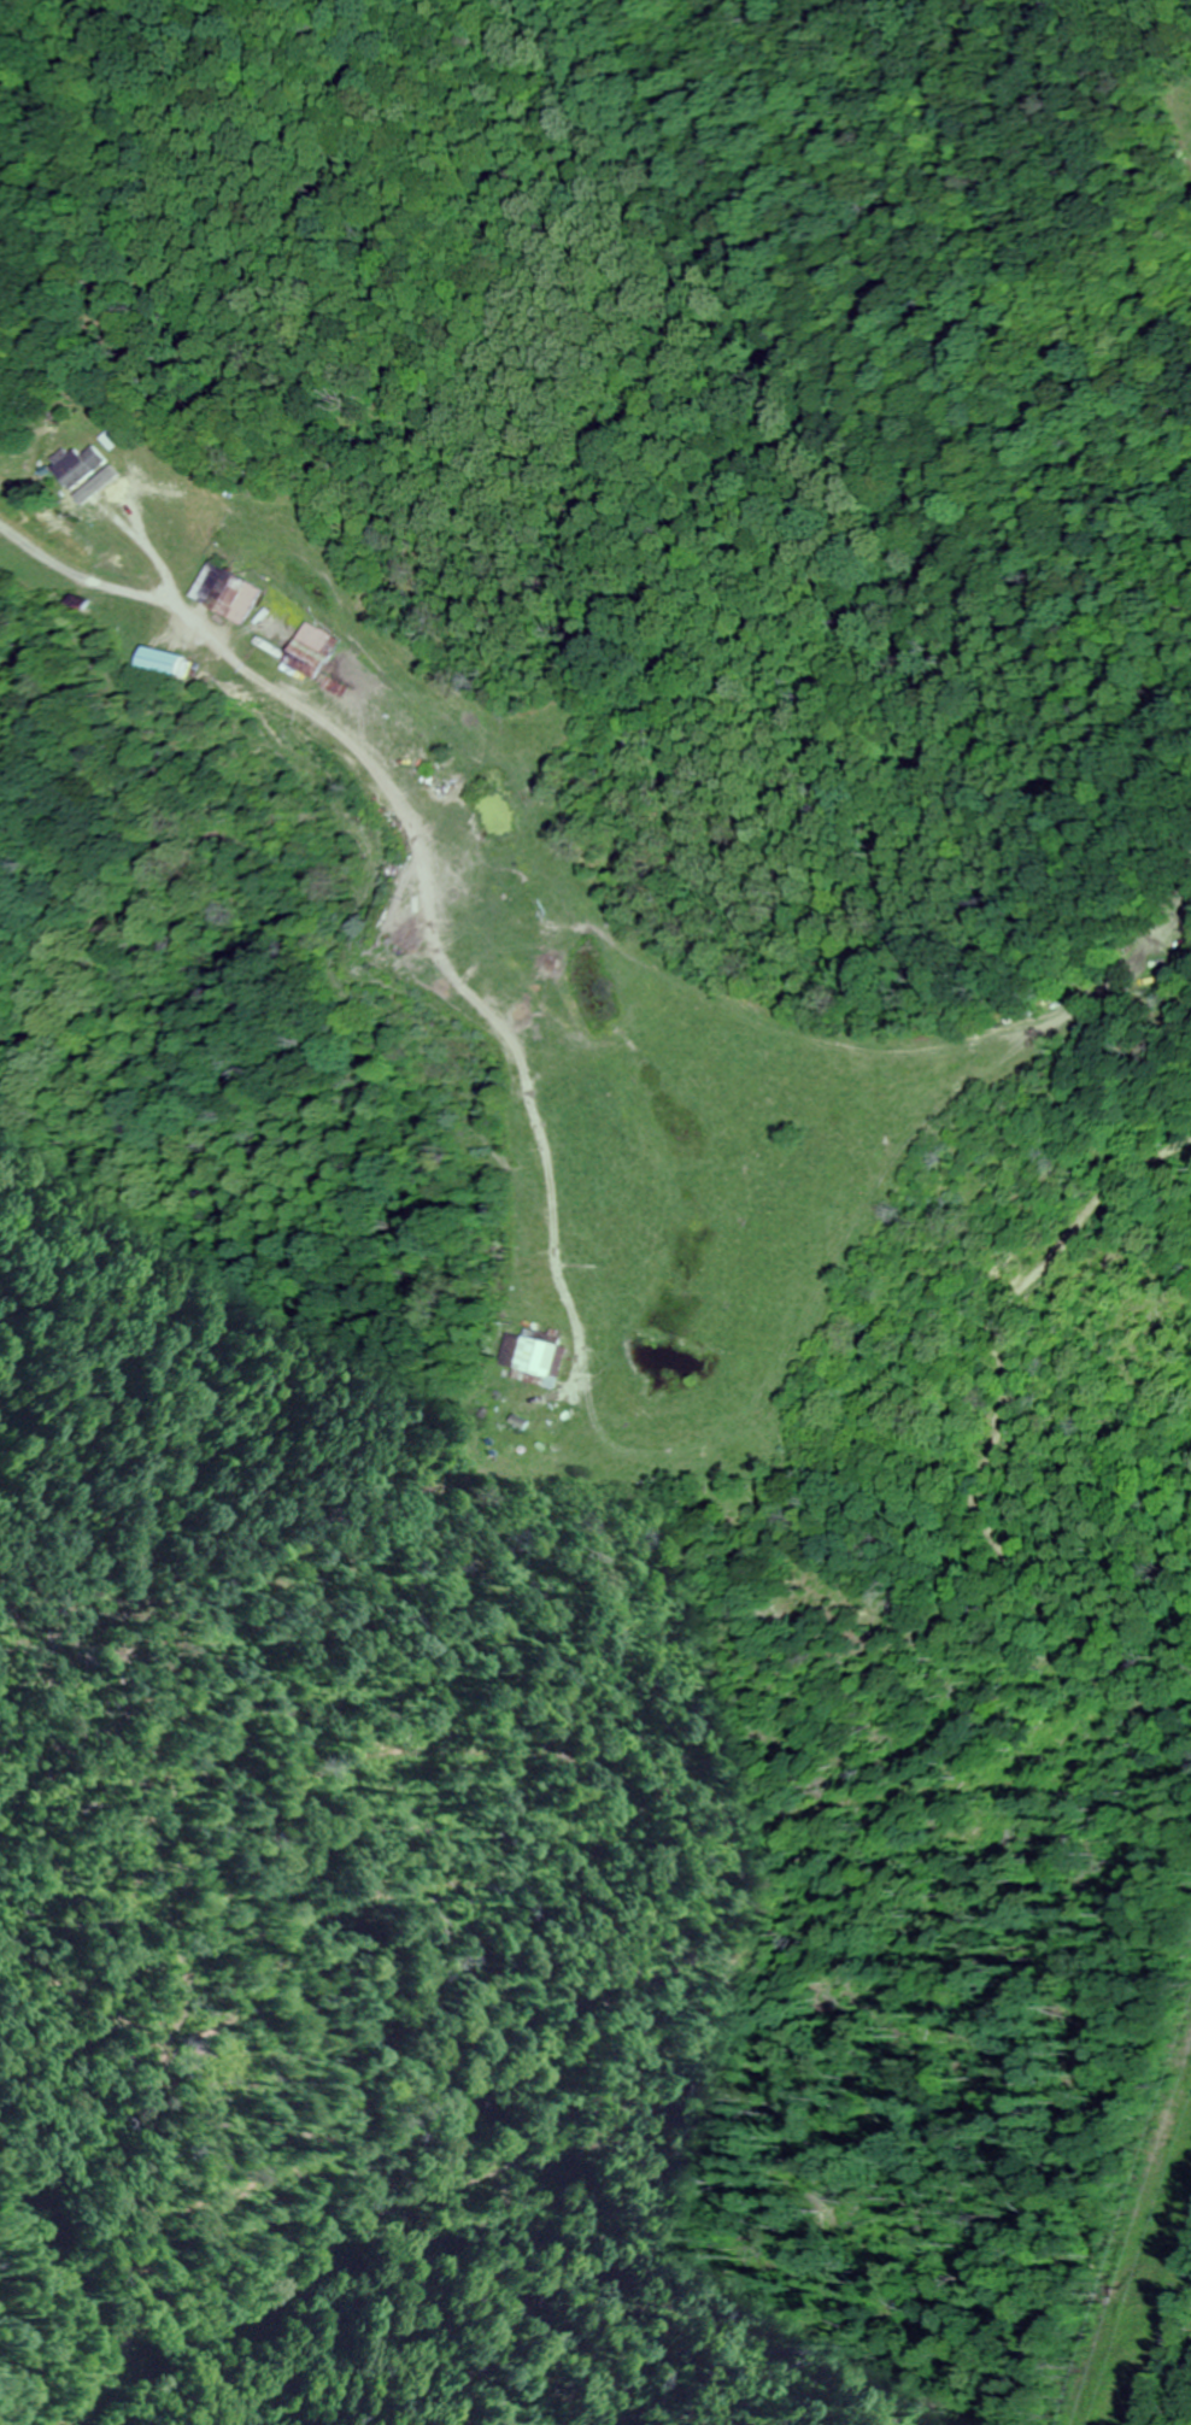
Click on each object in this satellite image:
building: (90, 466)
building: (230, 592)
building: (319, 651)
building: (545, 1357)
building: (1190, 2150)
building: (1185, 2174)

